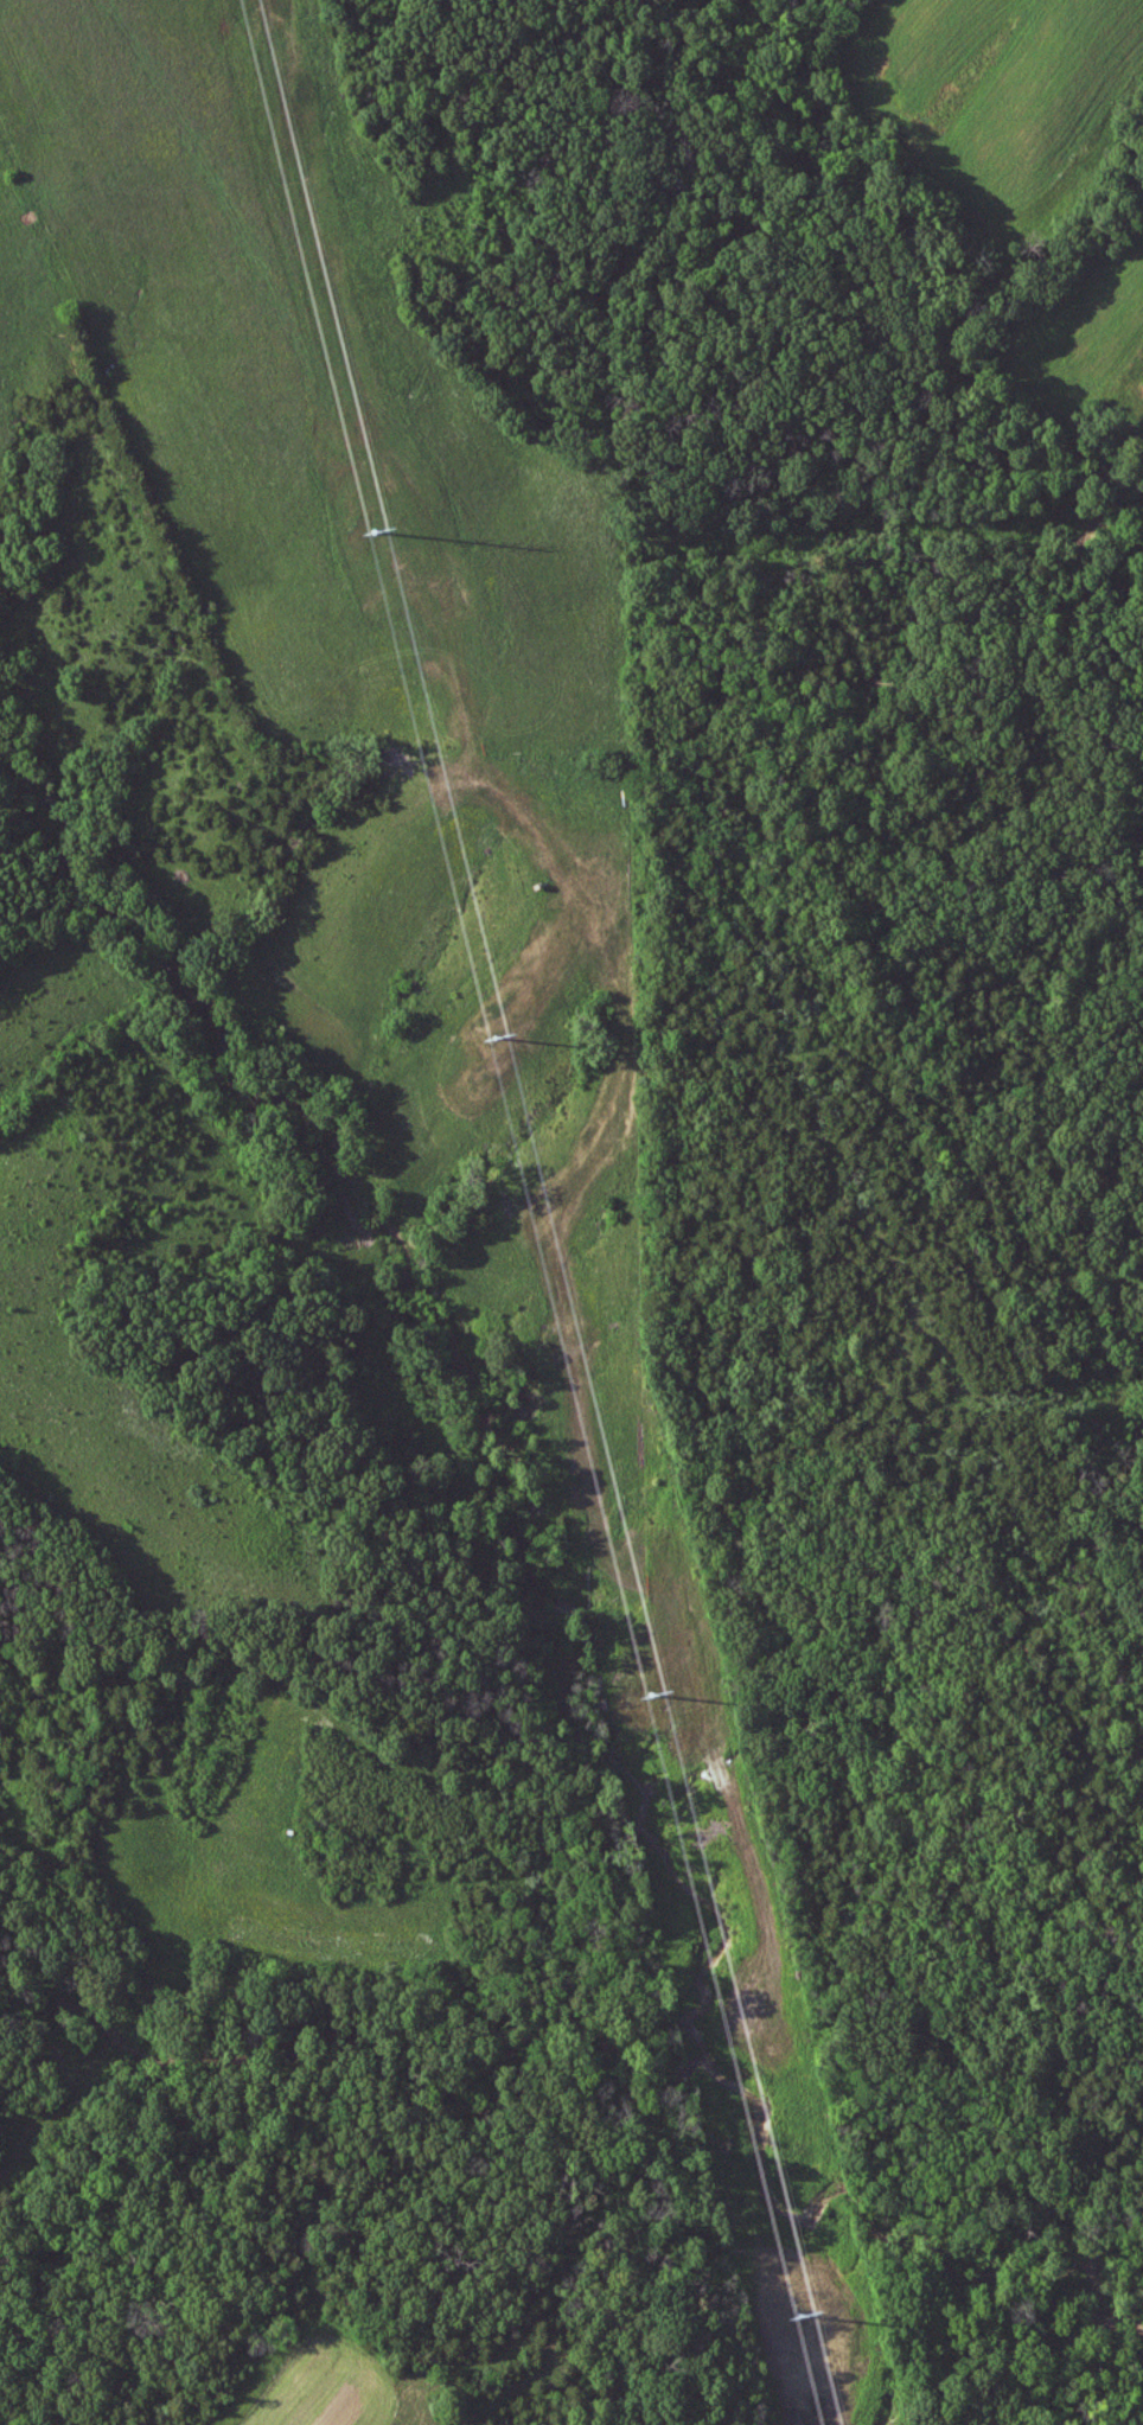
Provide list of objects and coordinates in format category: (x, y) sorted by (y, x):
power tower: (369, 525)
power tower: (496, 1039)
power tower: (654, 1689)
power tower: (796, 2314)

